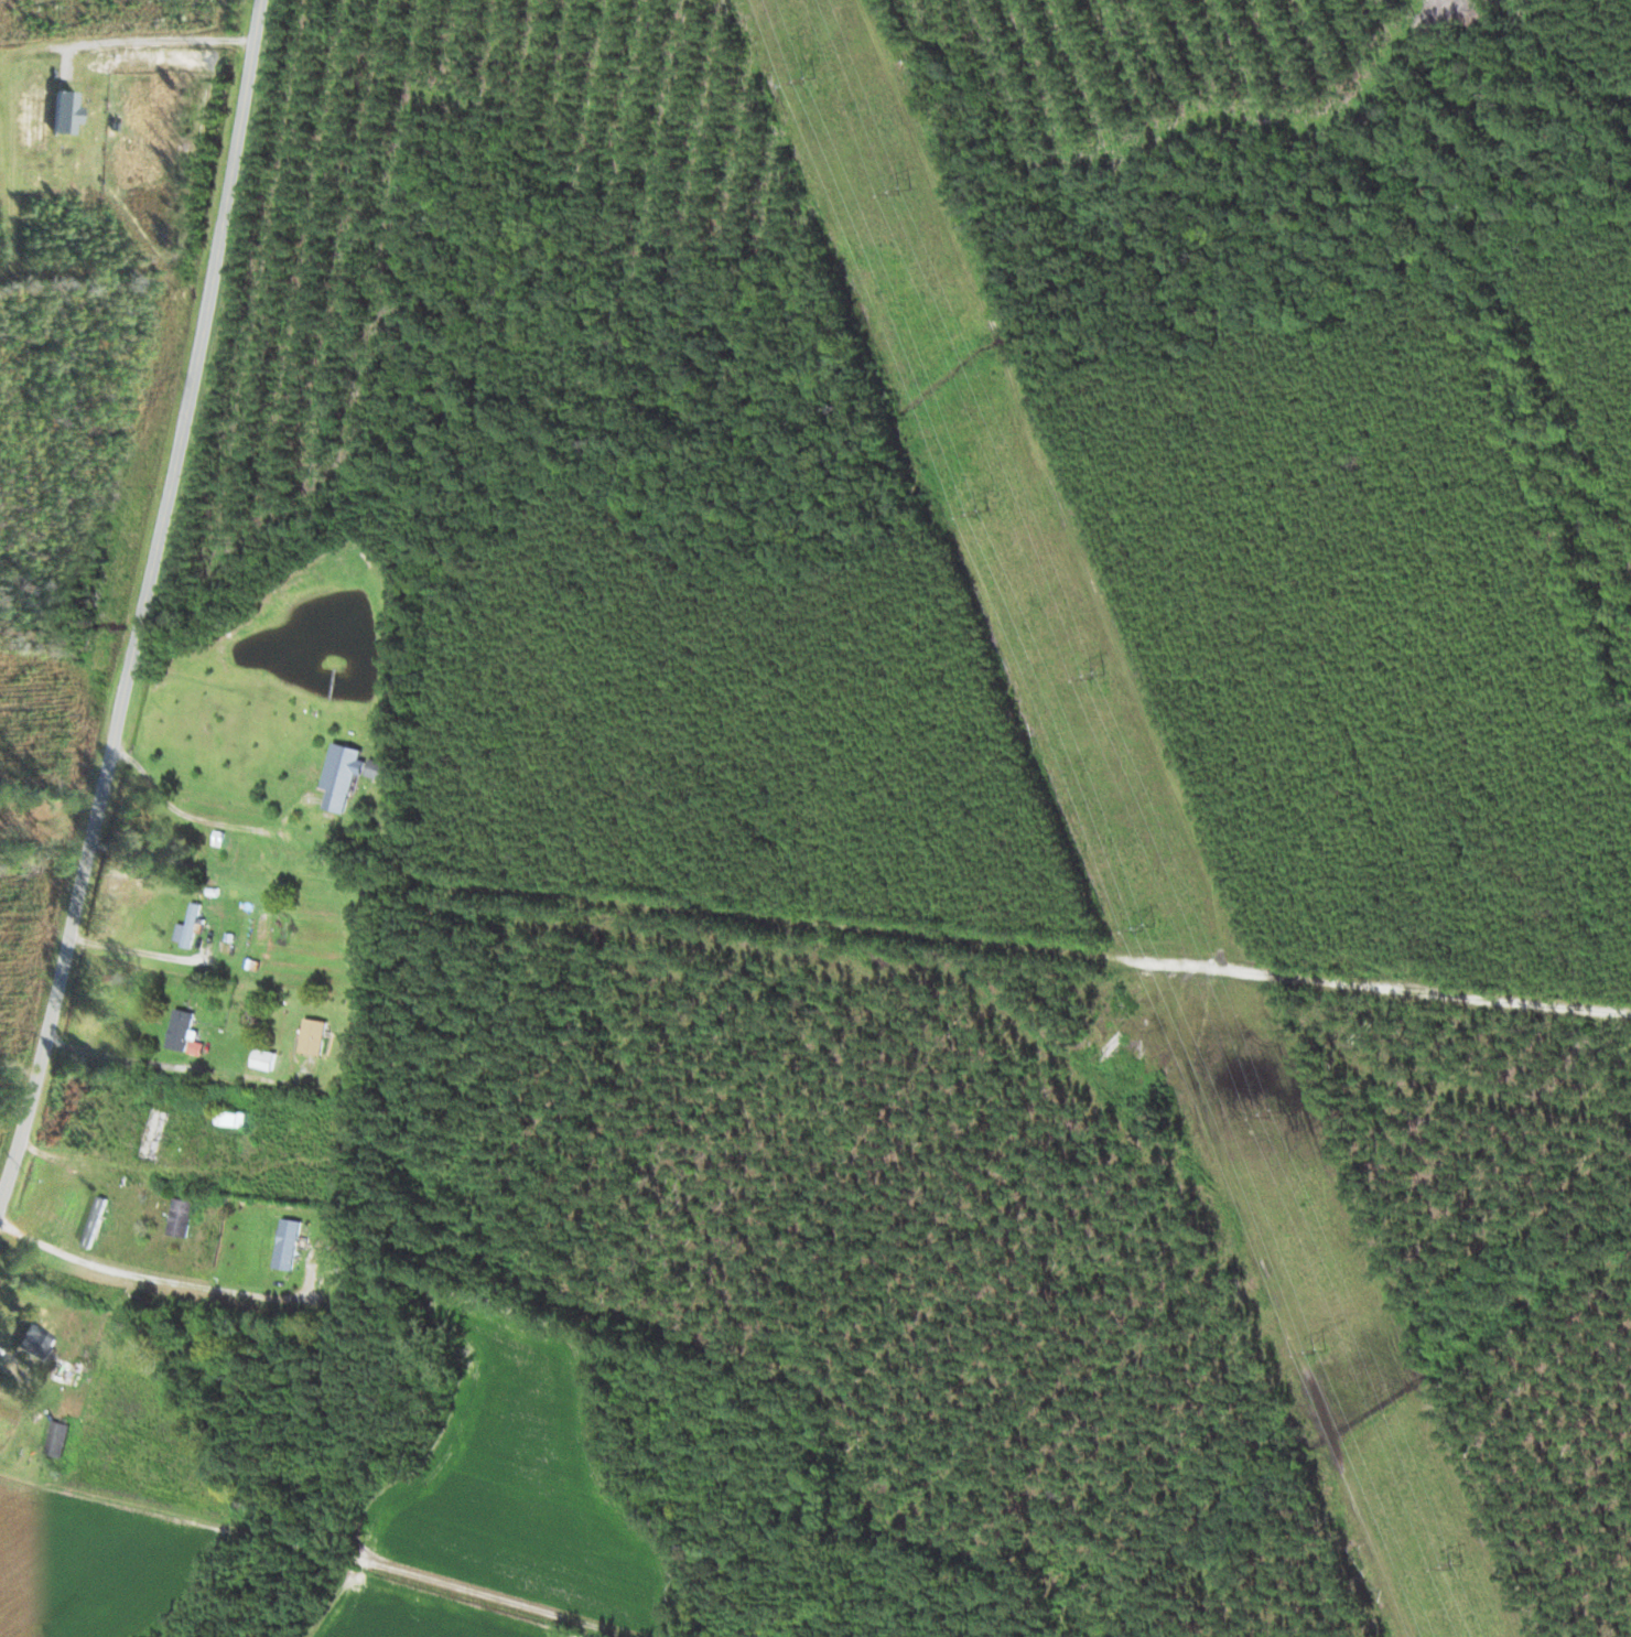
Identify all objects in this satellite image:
road: (1506, 22)
power tower: (807, 77)
power tower: (906, 191)
power tower: (983, 515)
road: (145, 602)
power tower: (1100, 675)
building: (381, 769)
building: (344, 776)
building: (194, 926)
power tower: (1149, 927)
road: (1066, 954)
building: (183, 1031)
road: (273, 1033)
building: (316, 1037)
building: (267, 1059)
power tower: (1275, 1114)
building: (233, 1119)
building: (155, 1137)
building: (183, 1218)
building: (97, 1223)
building: (290, 1245)
building: (37, 1344)
power tower: (1324, 1355)
building: (66, 1372)
building: (61, 1440)
power tower: (1457, 1565)

